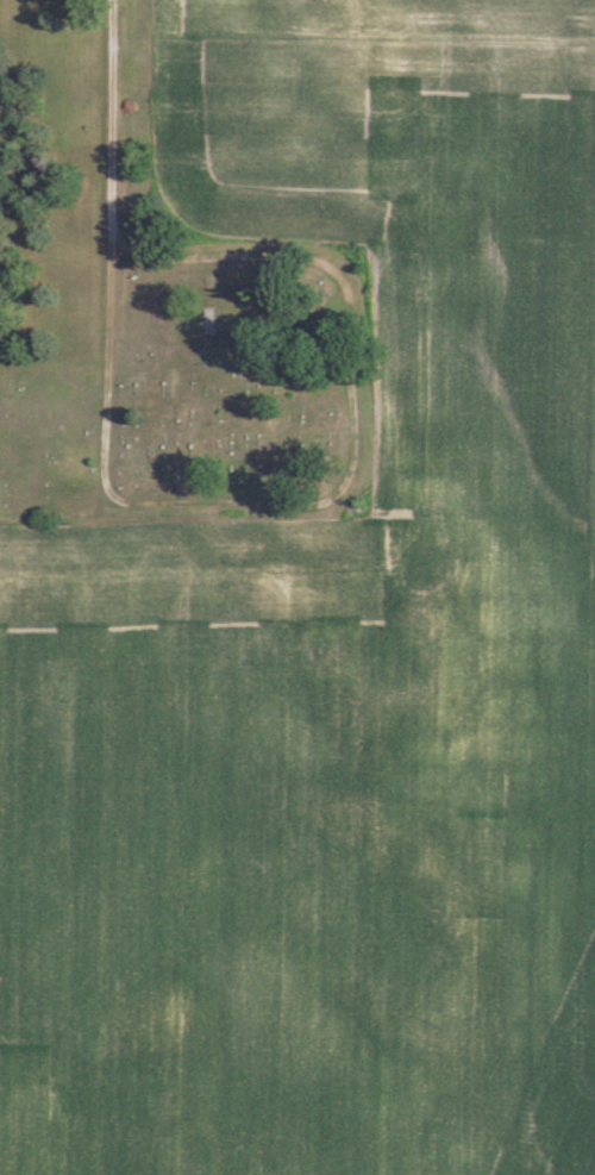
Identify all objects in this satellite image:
park: (158, 312)

